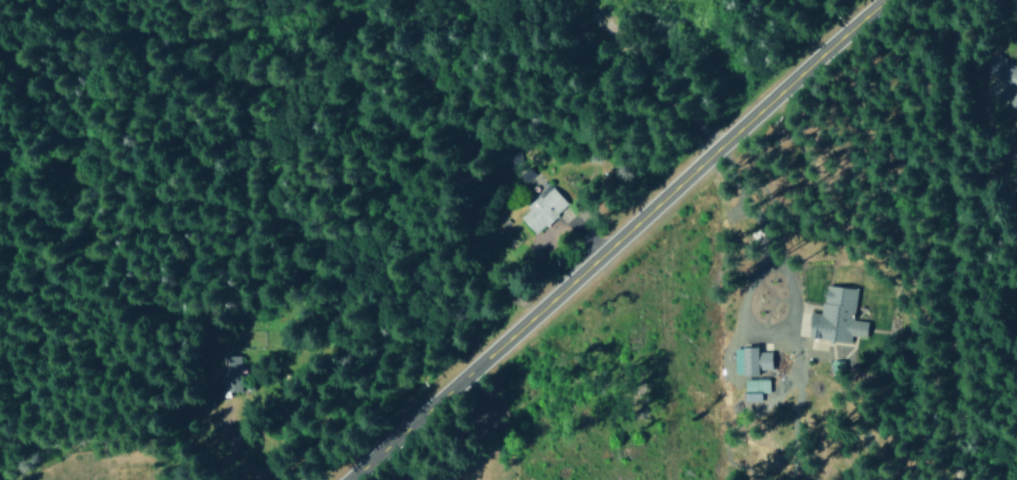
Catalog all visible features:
building: (1000, 79)
building: (1013, 135)
building: (1015, 160)
building: (541, 209)
road: (619, 239)
road: (952, 240)
building: (836, 316)
building: (750, 360)
building: (835, 366)
building: (230, 373)
building: (754, 388)

